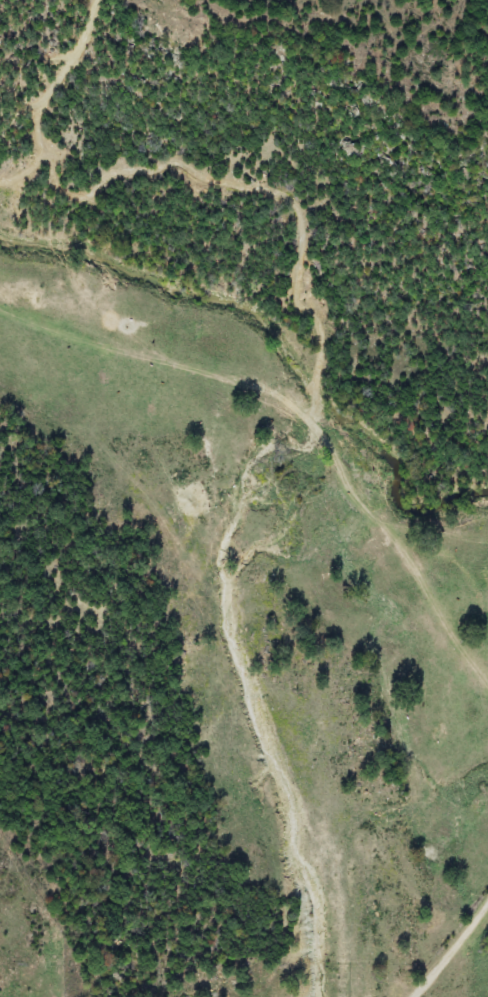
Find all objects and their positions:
road: (449, 951)

